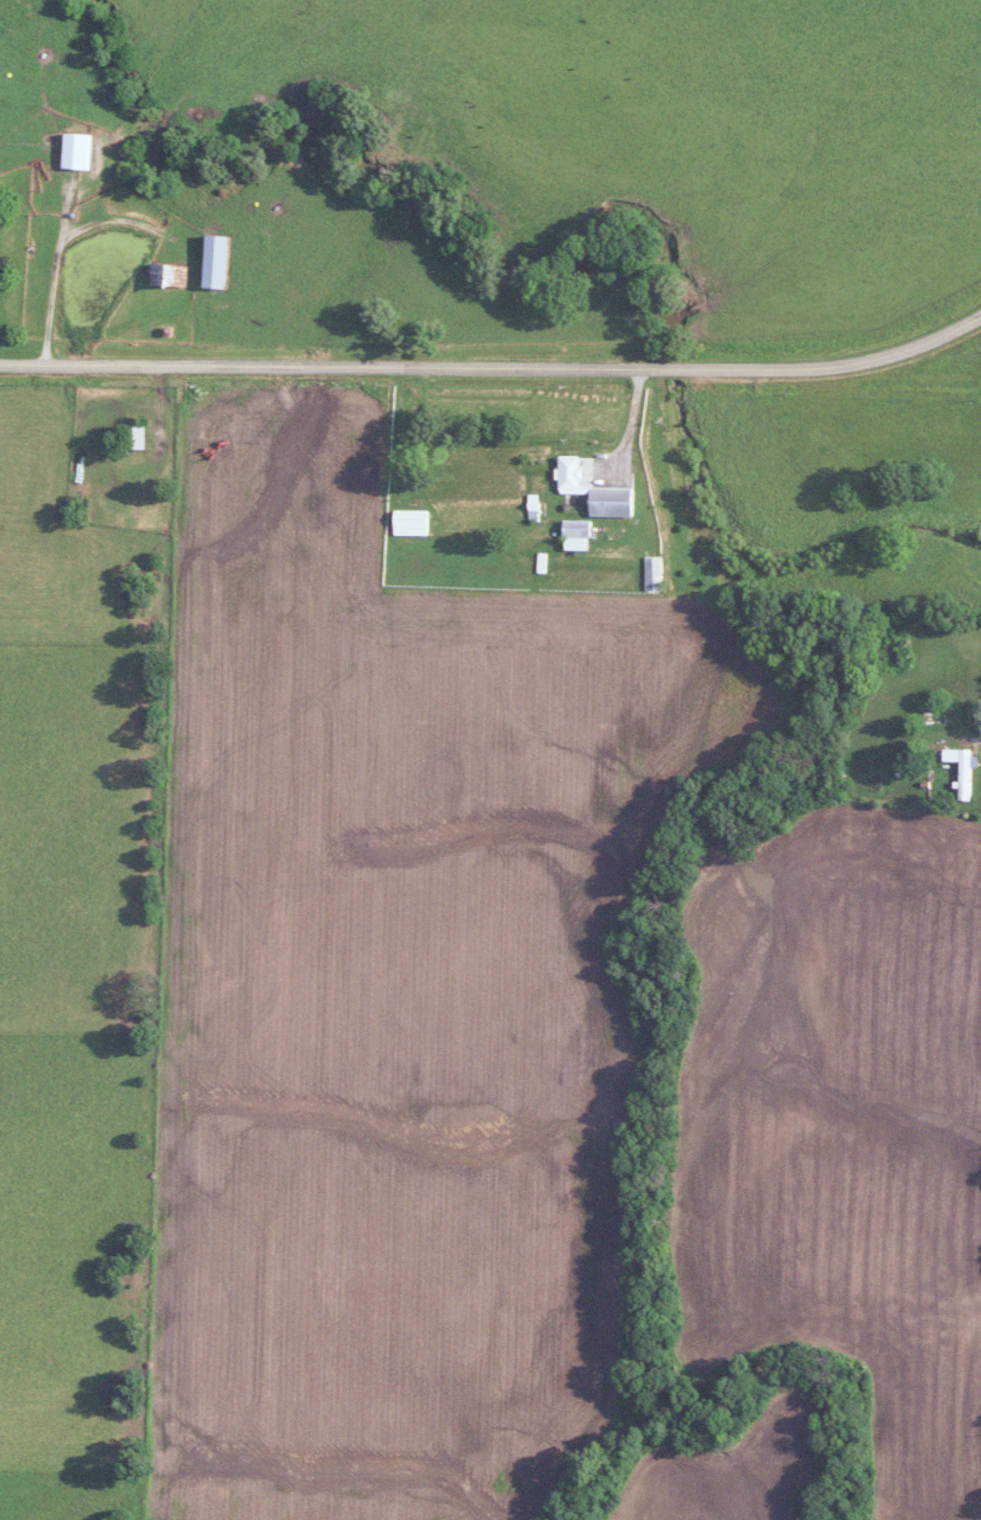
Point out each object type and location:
building: (74, 150)
building: (213, 262)
road: (55, 268)
building: (165, 274)
road: (496, 367)
road: (628, 436)
building: (133, 437)
building: (591, 490)
building: (531, 510)
building: (408, 522)
road: (210, 533)
building: (574, 534)
building: (650, 573)
building: (958, 768)

